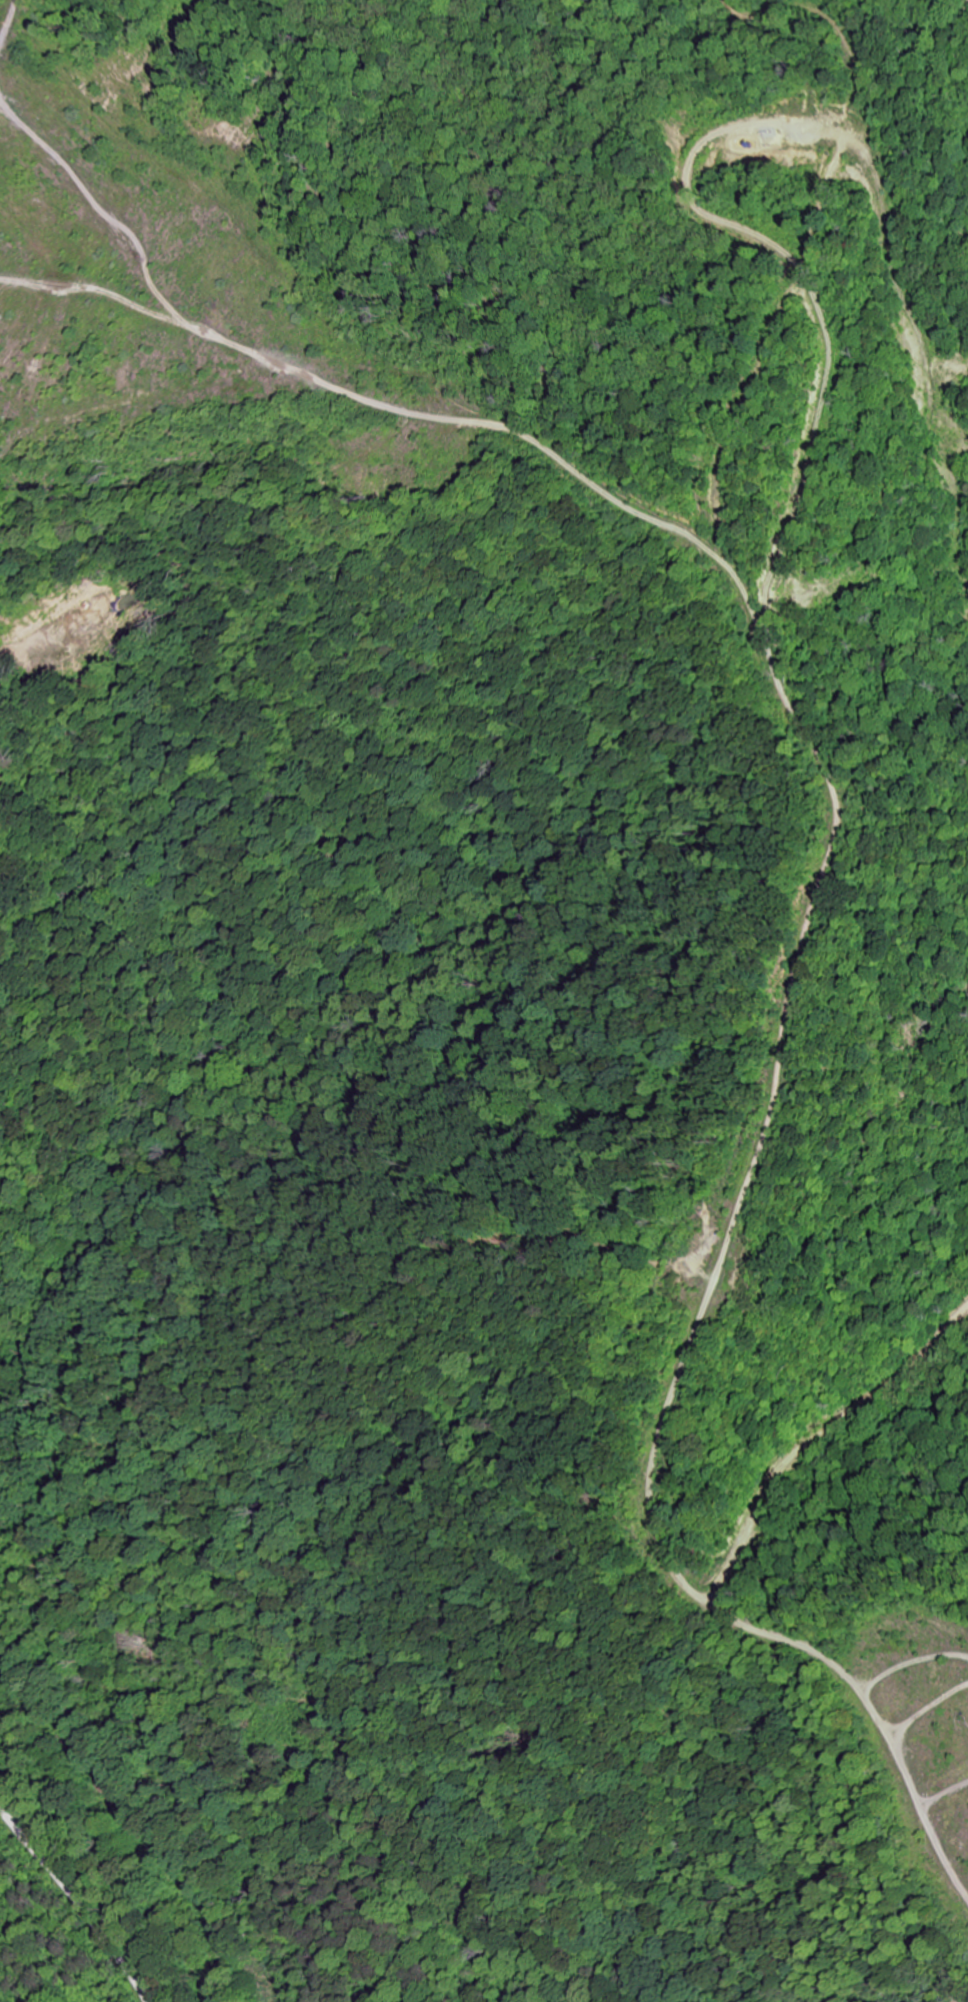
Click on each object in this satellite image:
road: (80, 1902)

